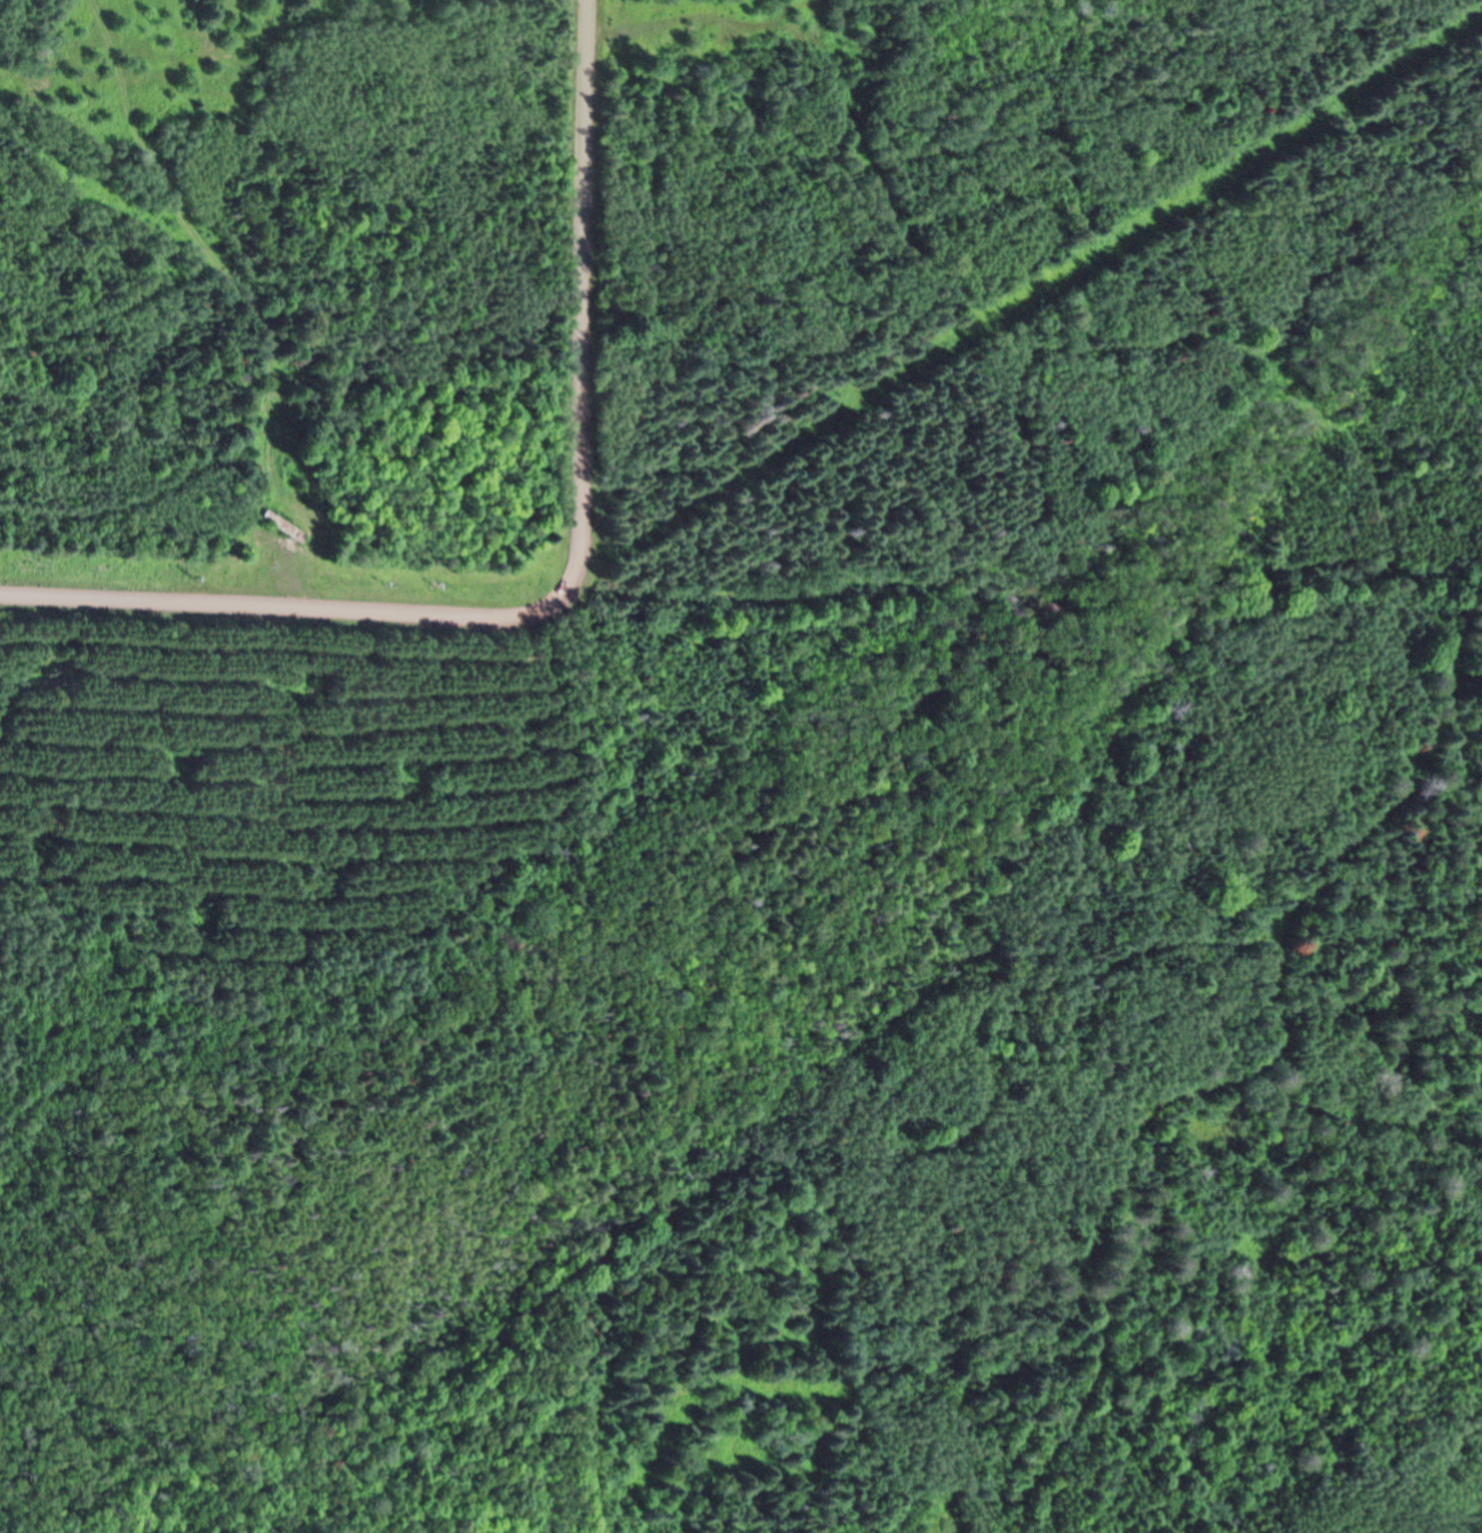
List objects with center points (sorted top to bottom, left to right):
building: (284, 529)
road: (568, 581)

